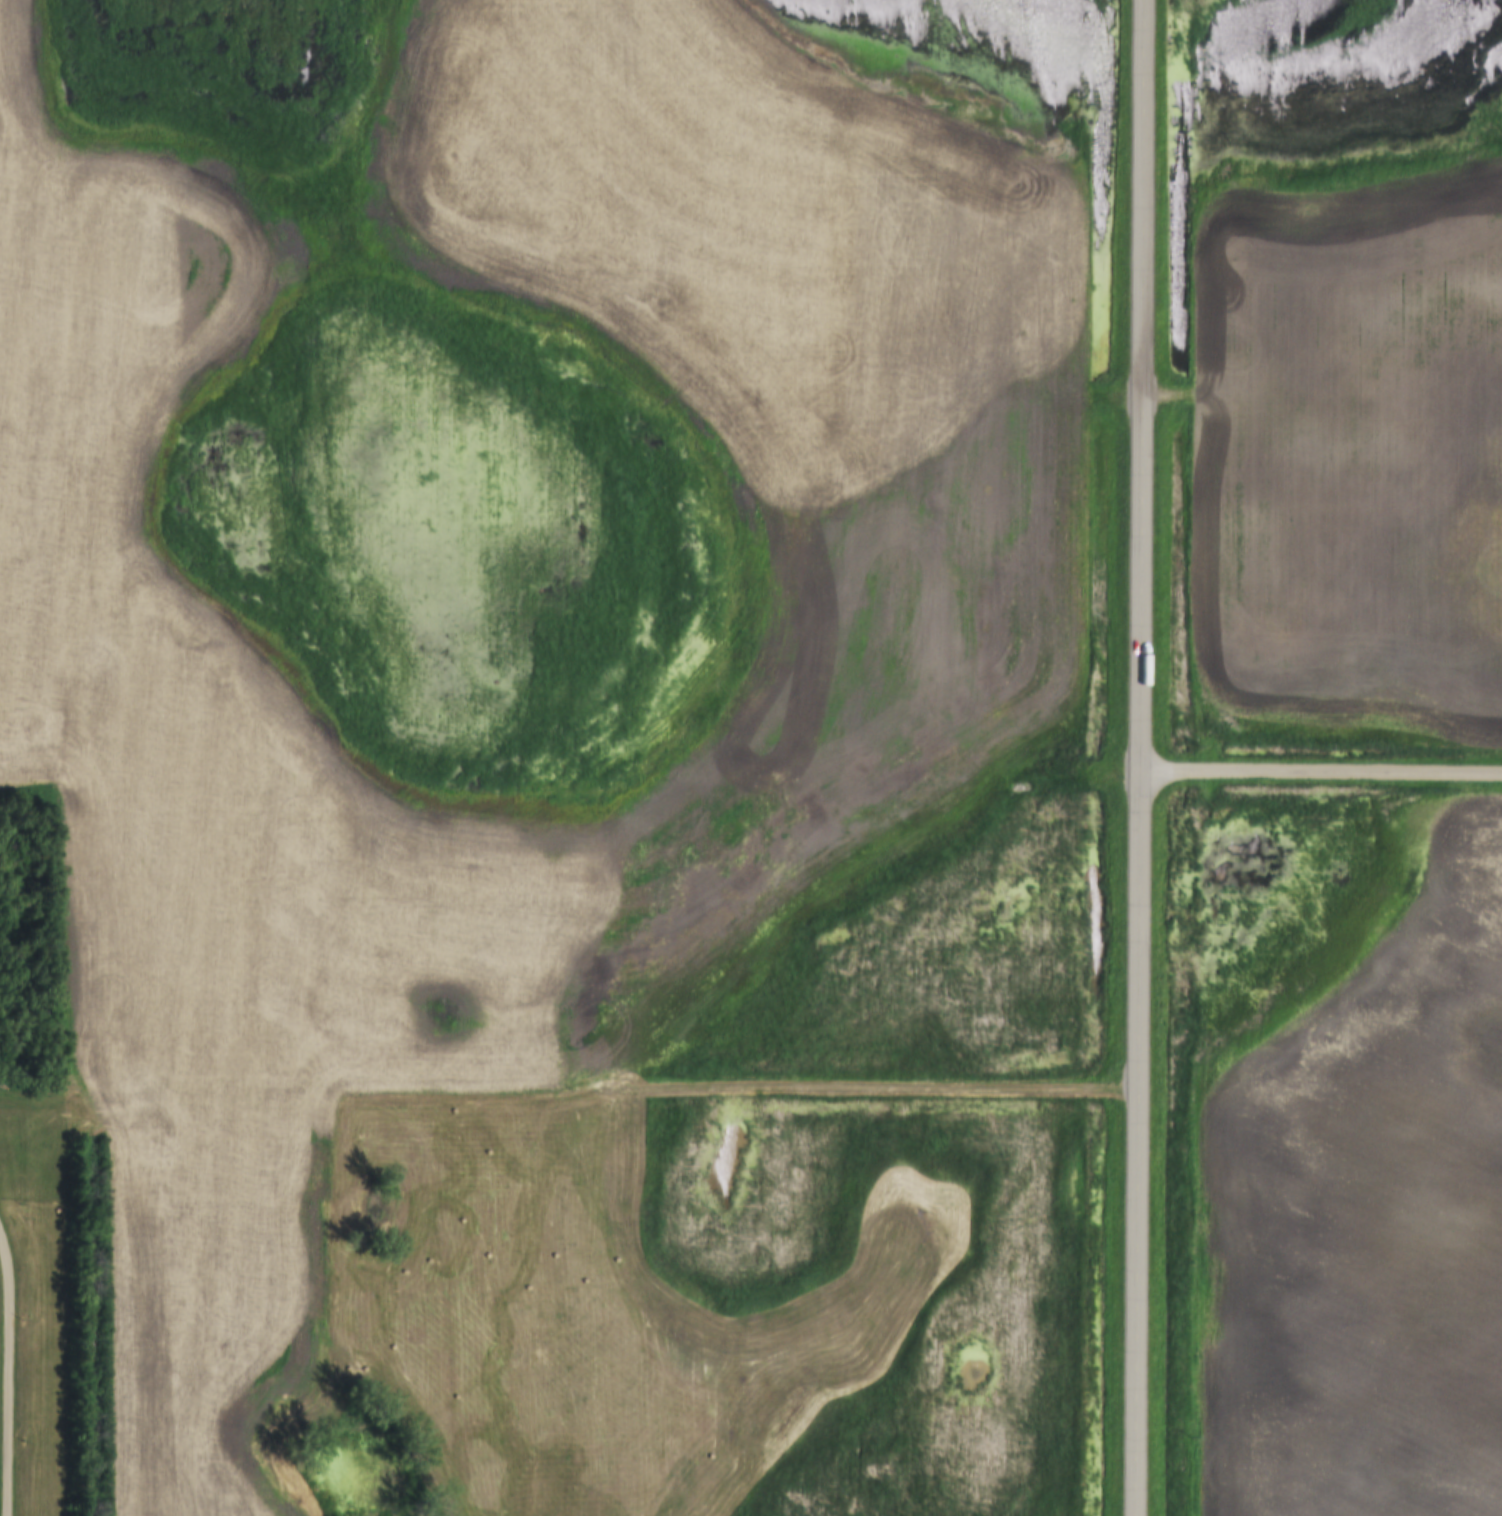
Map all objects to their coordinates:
road: (1138, 758)
road: (1320, 771)
road: (8, 1373)

